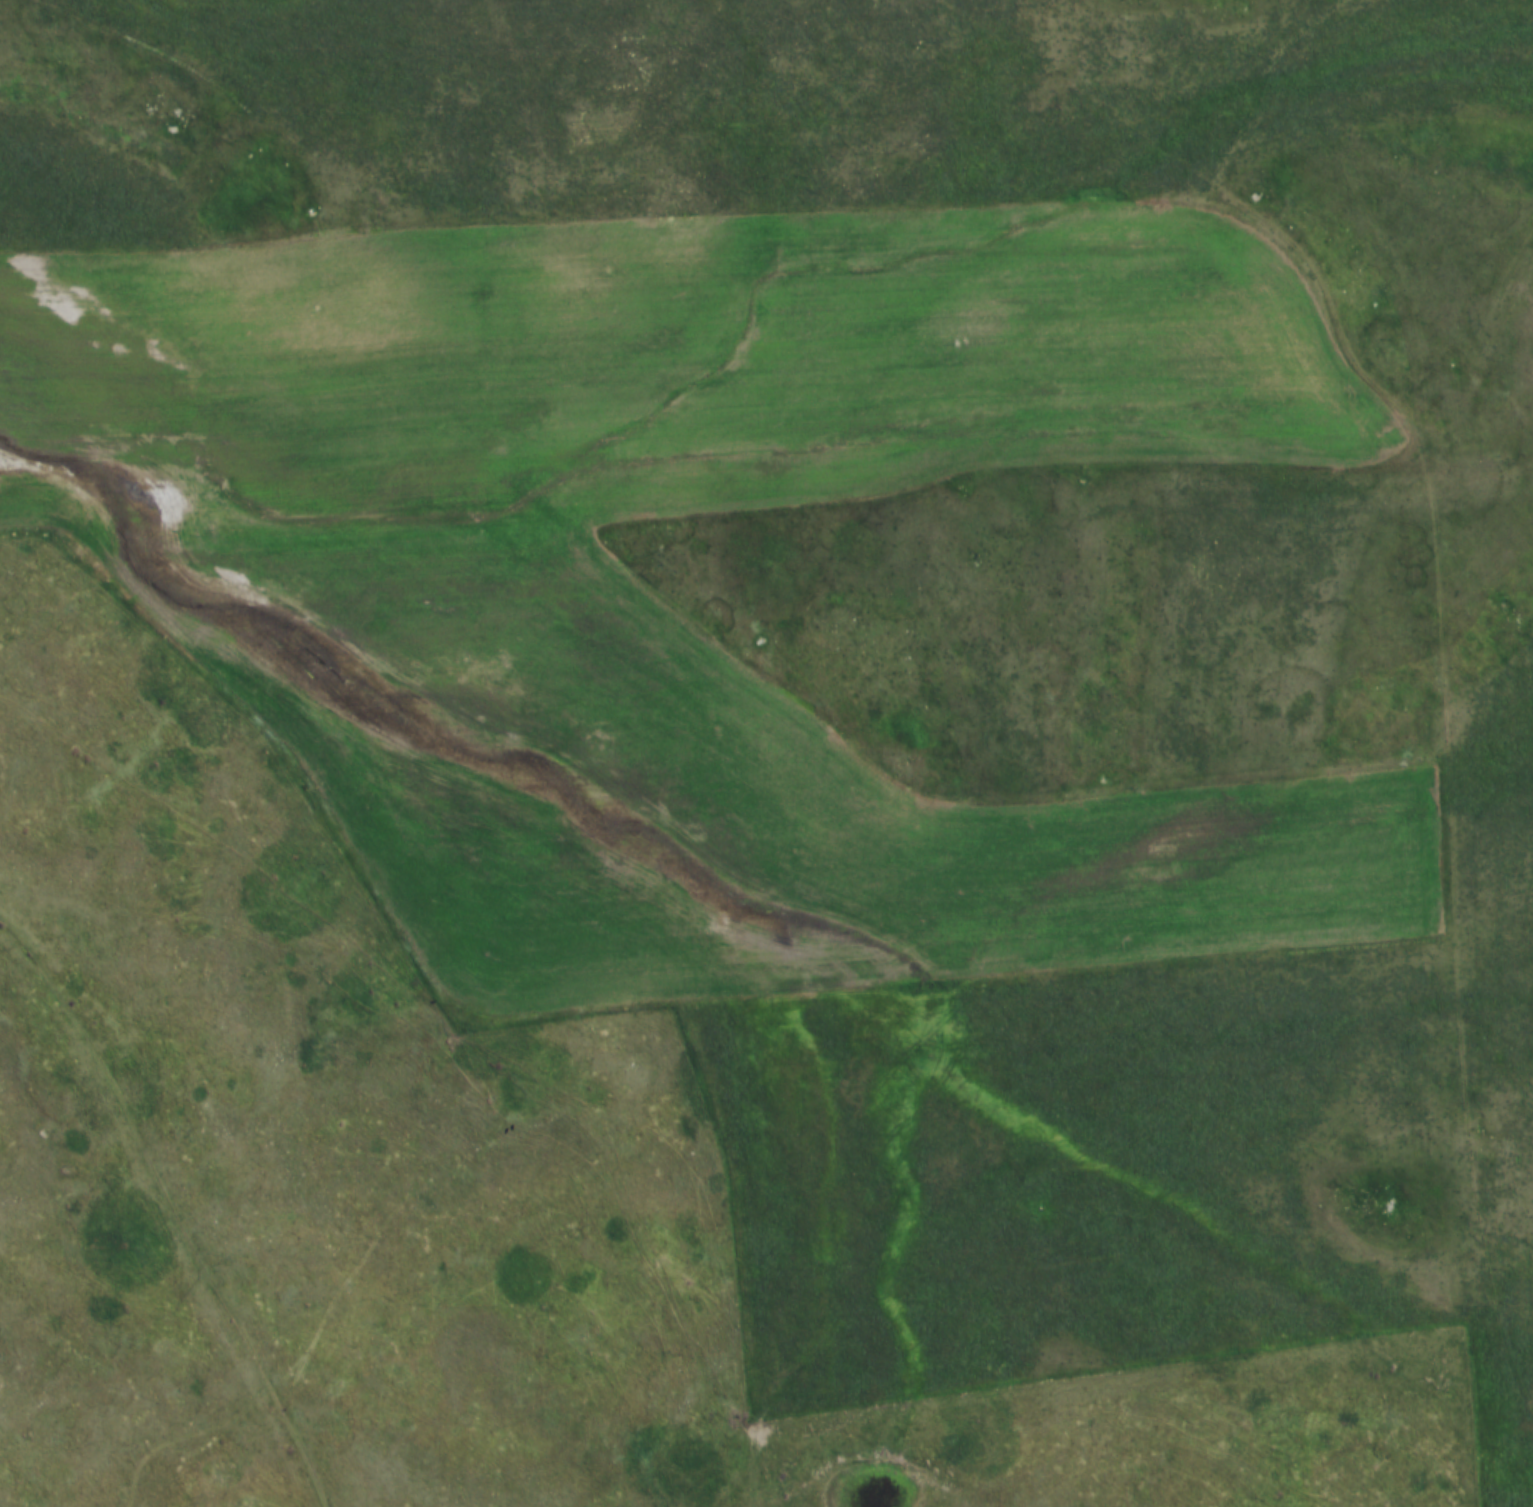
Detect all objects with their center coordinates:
road: (171, 1208)

